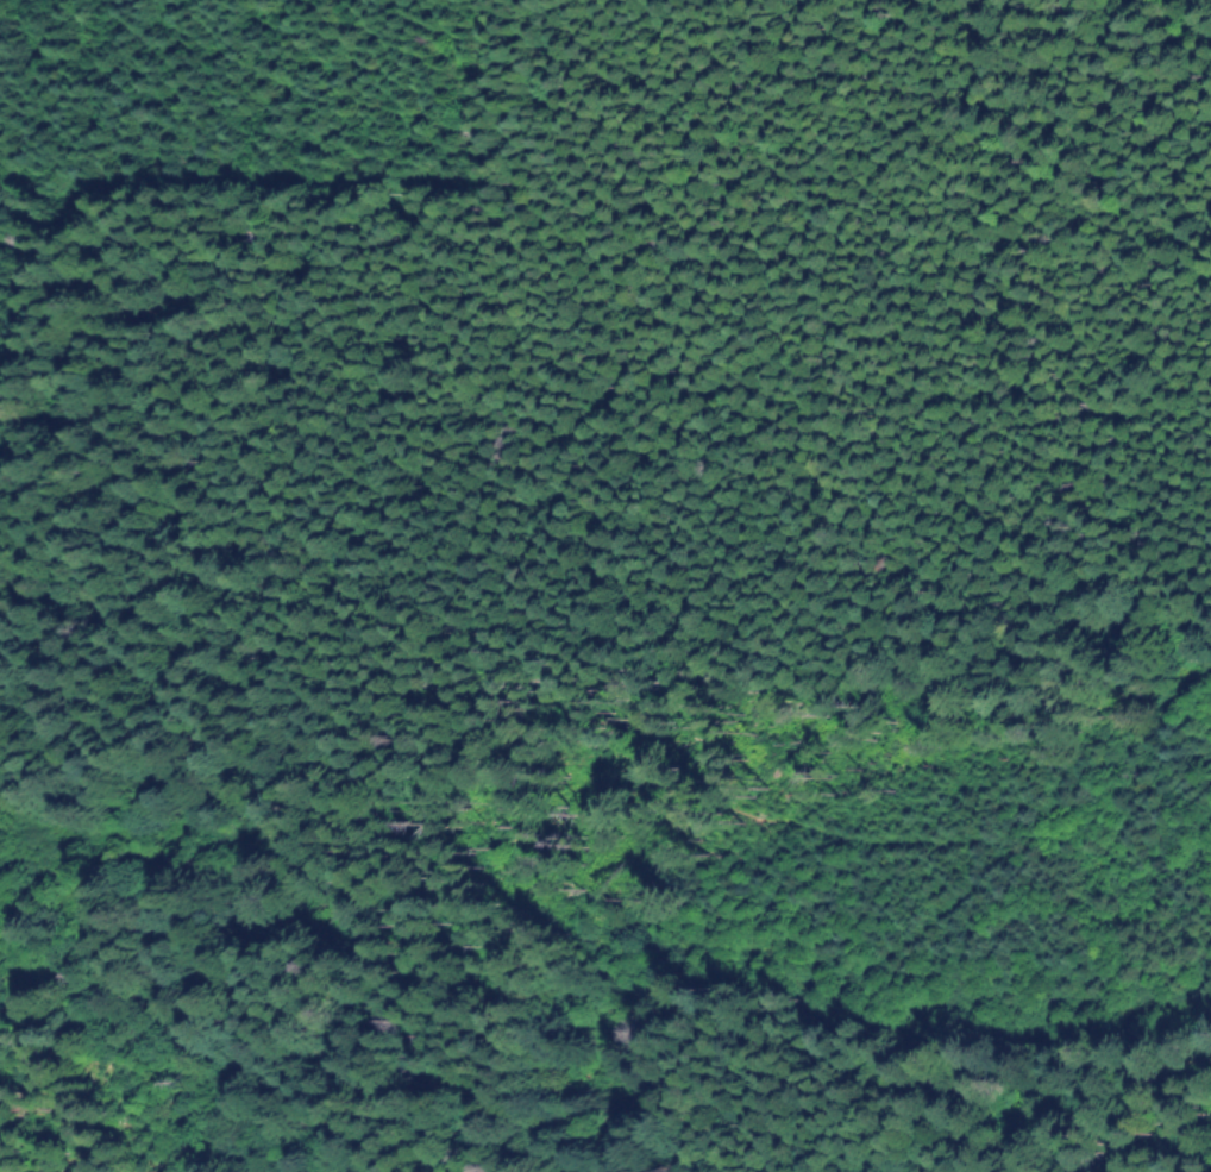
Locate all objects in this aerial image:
road: (702, 790)
road: (256, 1108)
road: (1163, 1127)

